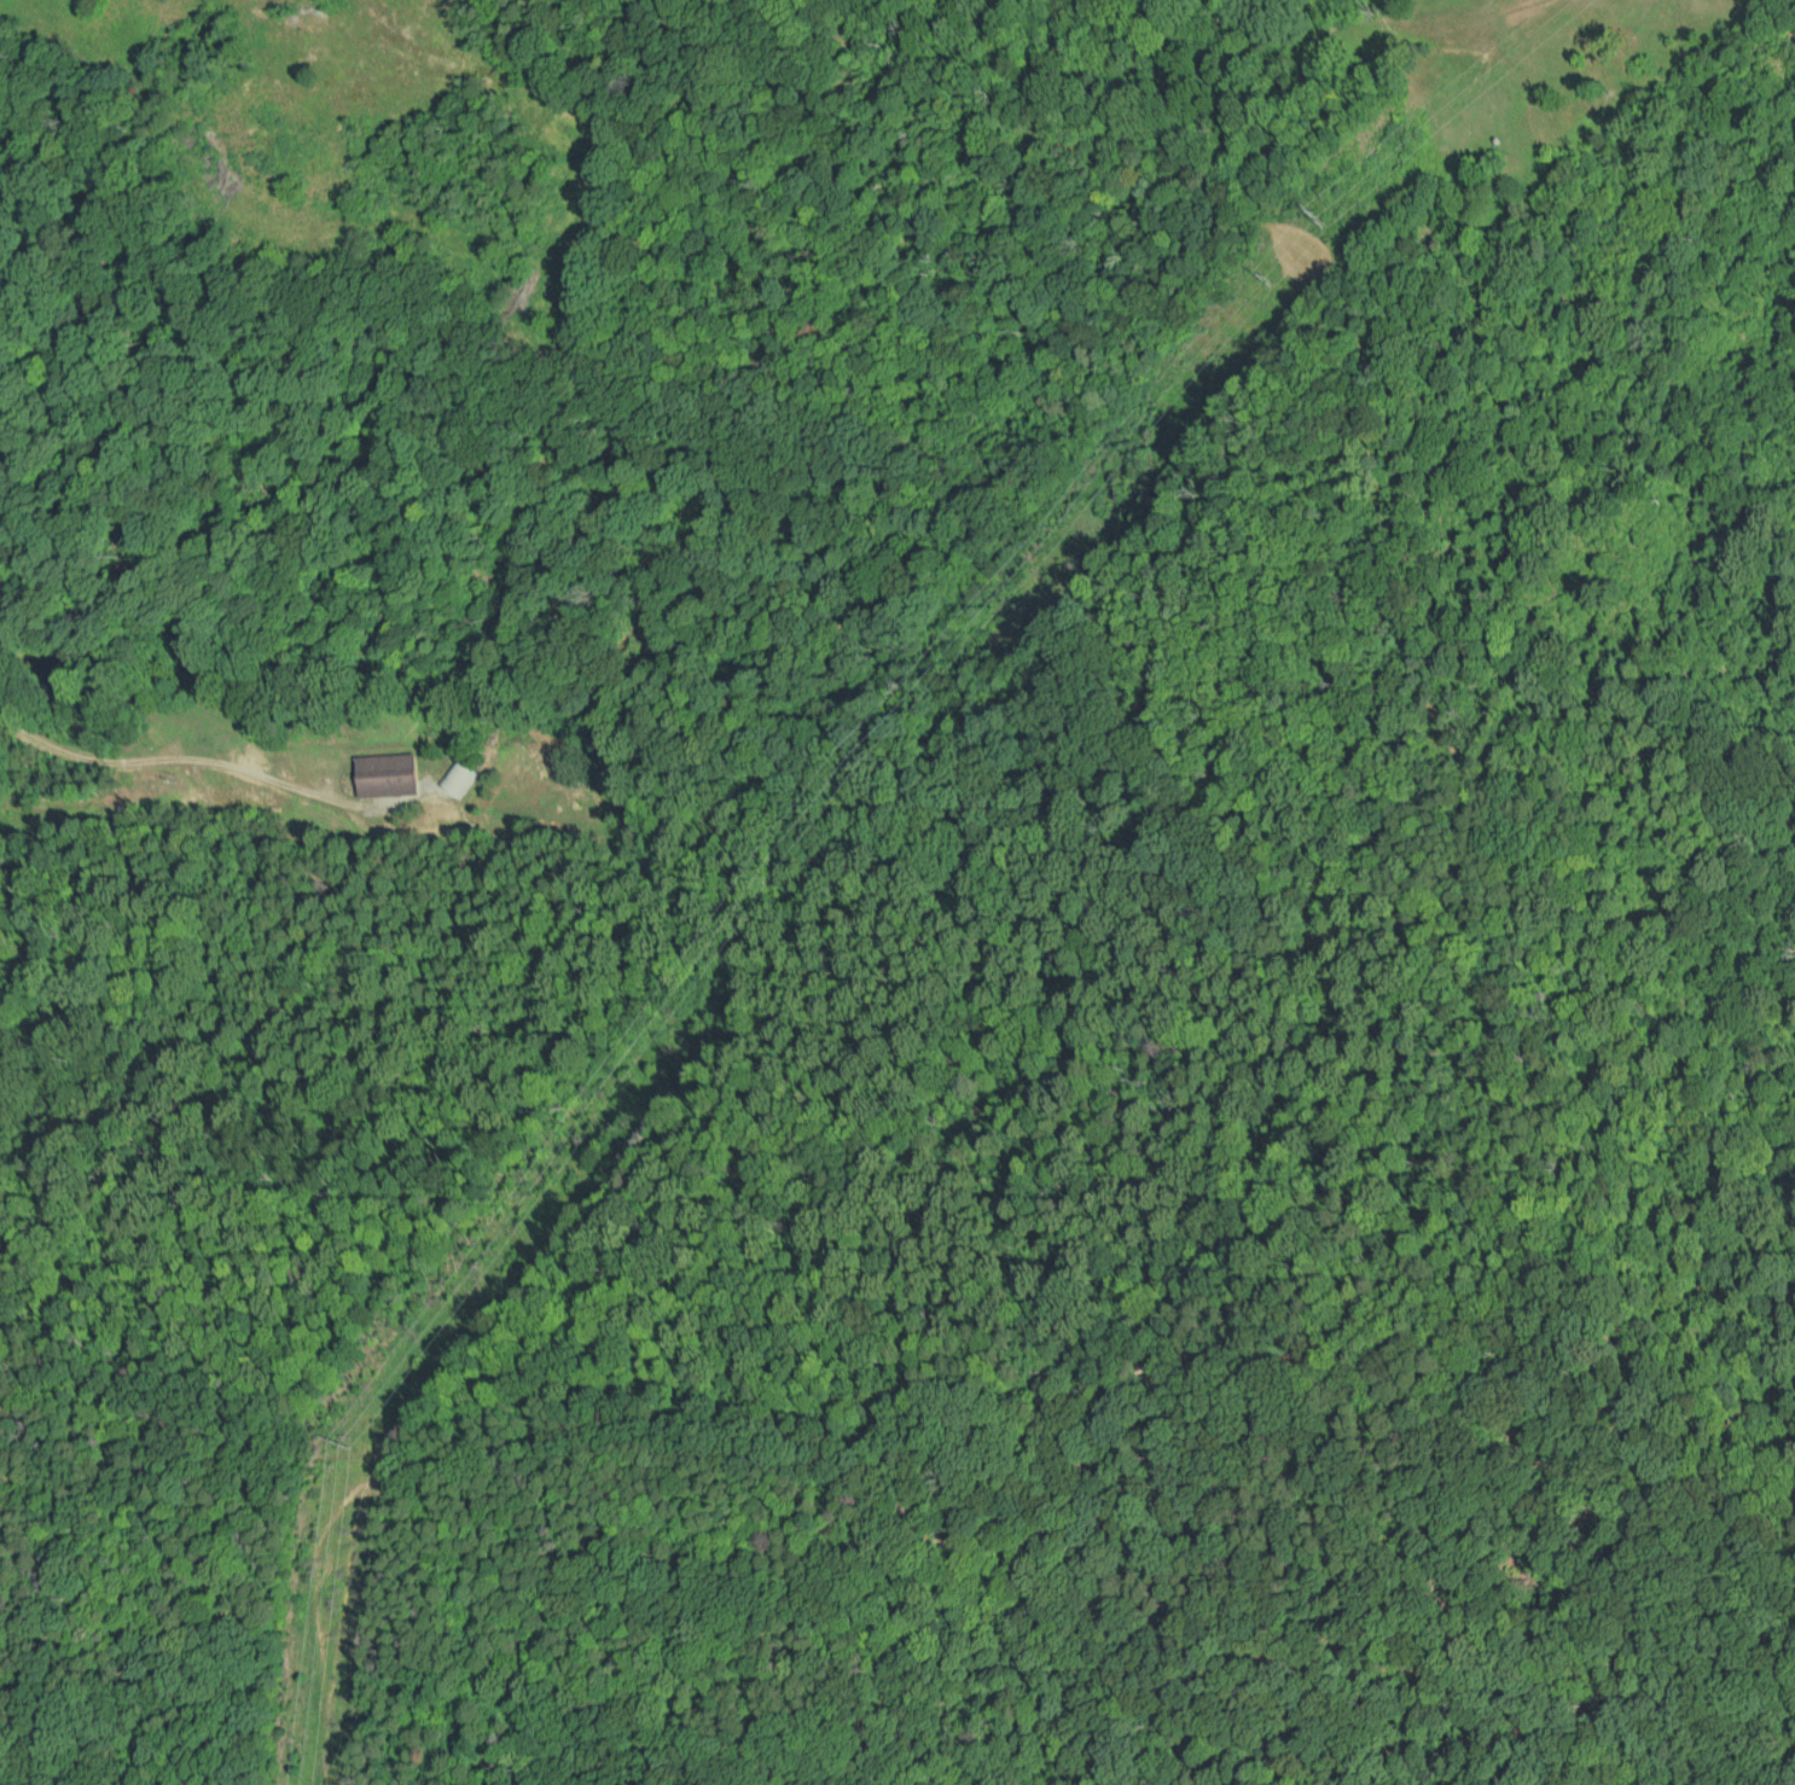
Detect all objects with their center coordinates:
power tower: (1320, 226)
power tower: (1271, 277)
road: (215, 758)
building: (387, 774)
power tower: (338, 1438)

